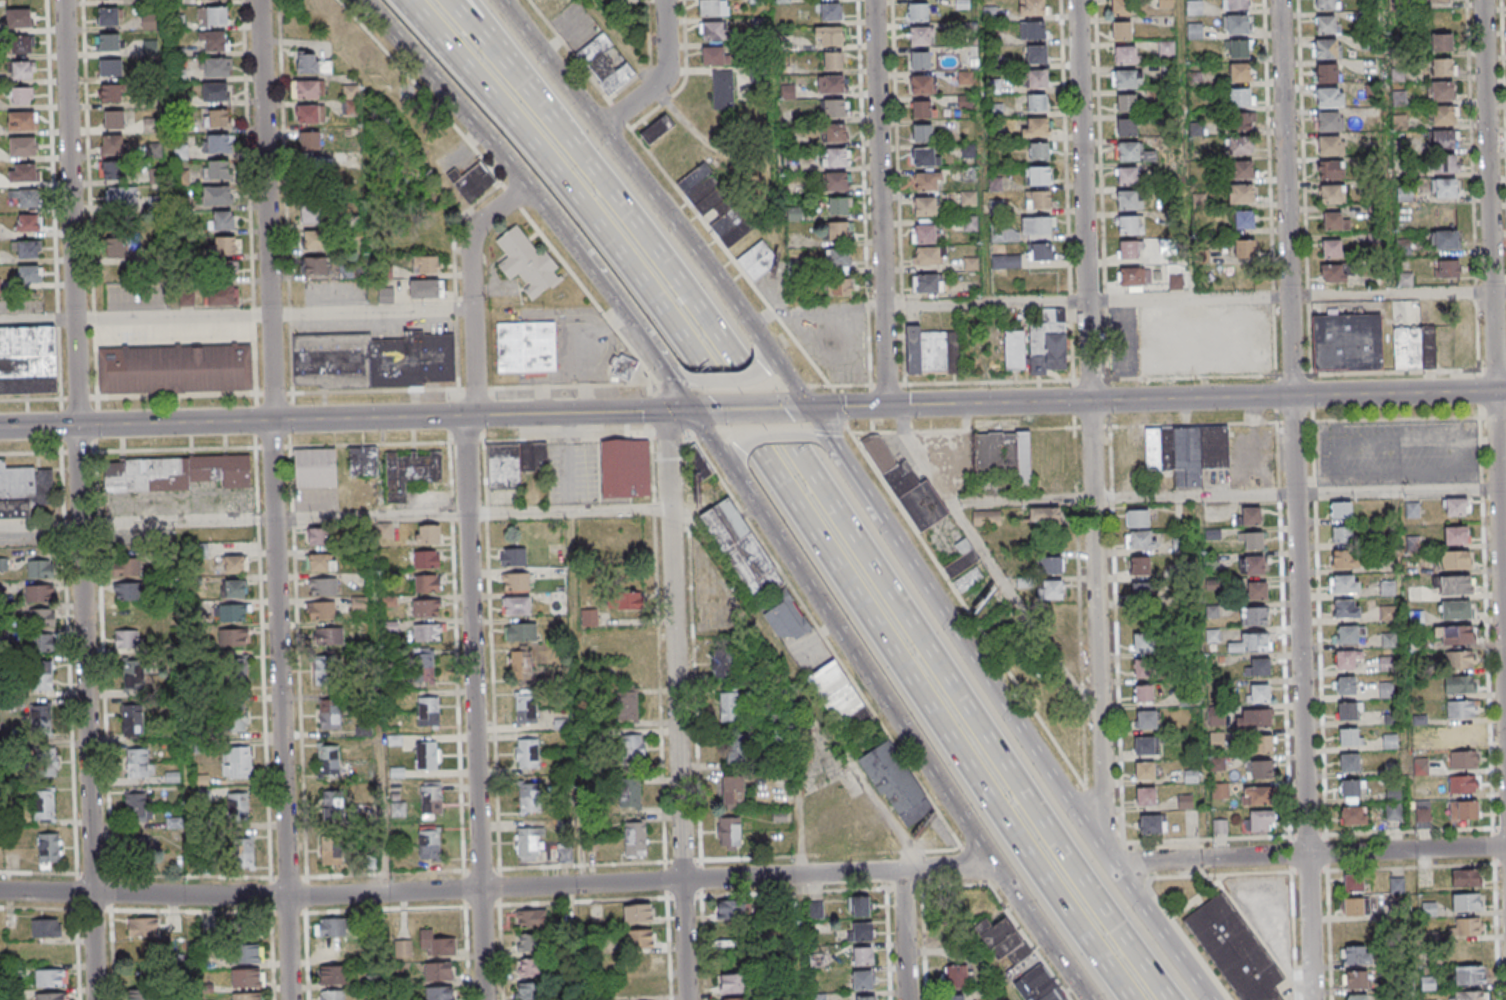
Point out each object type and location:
building: (1439, 1)
building: (1163, 3)
building: (1235, 4)
building: (1329, 5)
building: (552, 6)
building: (714, 7)
building: (1037, 8)
building: (1124, 8)
building: (830, 12)
building: (921, 14)
building: (107, 16)
building: (212, 16)
building: (17, 18)
building: (1235, 24)
building: (1330, 26)
building: (714, 30)
building: (1194, 31)
building: (1037, 32)
building: (1125, 32)
road: (506, 36)
building: (828, 37)
building: (923, 37)
road: (489, 39)
building: (108, 41)
building: (212, 42)
building: (1442, 42)
building: (21, 45)
building: (1166, 48)
building: (1243, 50)
building: (1330, 50)
building: (715, 55)
building: (1040, 56)
building: (1128, 57)
building: (833, 60)
building: (946, 60)
building: (923, 62)
building: (312, 64)
building: (604, 66)
building: (109, 67)
building: (216, 67)
building: (1441, 67)
building: (22, 70)
building: (1327, 72)
building: (1243, 74)
road: (661, 79)
building: (1129, 80)
building: (1041, 81)
building: (831, 84)
building: (925, 86)
building: (307, 89)
building: (723, 89)
building: (214, 91)
building: (1441, 91)
building: (109, 92)
building: (20, 96)
building: (1329, 97)
building: (1240, 98)
building: (351, 99)
building: (1040, 104)
building: (1130, 105)
building: (833, 108)
road: (549, 110)
building: (925, 111)
building: (308, 113)
road: (467, 116)
building: (1442, 116)
building: (217, 118)
building: (113, 119)
building: (20, 121)
building: (1242, 121)
building: (1327, 121)
building: (150, 124)
building: (1041, 129)
building: (657, 130)
building: (1130, 130)
building: (833, 134)
building: (926, 135)
building: (310, 141)
building: (1441, 141)
building: (111, 144)
building: (218, 144)
building: (1239, 145)
building: (1329, 146)
building: (21, 147)
building: (180, 152)
building: (1042, 153)
building: (1132, 153)
building: (834, 158)
building: (927, 158)
building: (1443, 164)
building: (1241, 169)
building: (1329, 170)
building: (114, 171)
building: (217, 171)
building: (22, 174)
road: (634, 174)
building: (1042, 178)
building: (1131, 178)
building: (474, 183)
building: (835, 183)
building: (928, 183)
building: (1444, 188)
building: (1241, 193)
building: (1330, 193)
building: (216, 196)
building: (121, 198)
building: (24, 199)
building: (1044, 202)
building: (1131, 202)
road: (879, 203)
building: (714, 206)
building: (995, 206)
building: (838, 207)
building: (930, 208)
building: (312, 215)
building: (1242, 219)
building: (1332, 220)
building: (222, 221)
building: (26, 224)
building: (1044, 227)
building: (1131, 227)
building: (837, 232)
building: (430, 236)
building: (928, 236)
building: (1444, 239)
building: (314, 241)
building: (117, 246)
building: (227, 246)
building: (1244, 248)
building: (1331, 248)
building: (1127, 249)
building: (27, 250)
building: (1045, 253)
building: (930, 258)
building: (838, 259)
building: (758, 261)
building: (1005, 261)
building: (527, 262)
building: (425, 265)
building: (314, 266)
building: (1446, 268)
building: (224, 270)
building: (346, 272)
building: (1333, 273)
building: (27, 275)
building: (1129, 276)
building: (930, 285)
building: (837, 287)
building: (425, 288)
building: (221, 296)
building: (386, 296)
building: (187, 300)
road: (1126, 301)
road: (276, 312)
road: (39, 317)
road: (631, 323)
road: (1495, 333)
road: (599, 335)
building: (1201, 341)
building: (1348, 342)
building: (1048, 343)
building: (526, 347)
building: (1414, 348)
building: (1013, 350)
building: (932, 351)
road: (766, 355)
road: (659, 357)
building: (28, 360)
building: (373, 360)
building: (624, 368)
building: (175, 369)
road: (786, 379)
road: (1093, 380)
road: (730, 381)
road: (588, 389)
road: (1501, 391)
road: (1151, 399)
road: (797, 408)
traffic signals: (806, 408)
road: (748, 410)
road: (700, 411)
traffic signals: (691, 412)
road: (1095, 417)
road: (386, 418)
road: (40, 426)
road: (820, 428)
road: (771, 433)
road: (824, 440)
road: (715, 446)
building: (1187, 451)
building: (1004, 454)
building: (363, 460)
road: (841, 460)
building: (514, 463)
building: (626, 468)
road: (736, 468)
building: (315, 469)
building: (411, 471)
building: (175, 473)
building: (906, 487)
road: (782, 489)
road: (1503, 489)
building: (24, 490)
road: (891, 495)
road: (1224, 496)
road: (280, 499)
road: (1301, 499)
road: (84, 500)
building: (1456, 506)
road: (952, 508)
building: (1341, 509)
building: (1411, 509)
building: (1250, 515)
building: (1043, 516)
road: (337, 518)
building: (986, 518)
building: (1136, 519)
building: (428, 533)
building: (1343, 534)
building: (1455, 534)
building: (317, 537)
building: (1251, 539)
building: (1141, 540)
building: (1179, 545)
building: (513, 556)
building: (426, 558)
building: (1344, 558)
building: (1455, 560)
building: (233, 563)
building: (320, 563)
building: (1251, 564)
building: (128, 565)
building: (1139, 565)
building: (1050, 566)
road: (876, 567)
building: (964, 567)
building: (39, 569)
building: (755, 571)
road: (475, 578)
building: (515, 581)
building: (427, 583)
building: (1343, 583)
building: (1454, 585)
building: (323, 586)
building: (233, 588)
building: (1390, 588)
building: (128, 590)
building: (1049, 590)
building: (1255, 590)
building: (38, 594)
building: (1143, 594)
building: (627, 601)
building: (557, 602)
building: (517, 605)
building: (426, 608)
building: (1344, 608)
building: (1456, 609)
building: (320, 611)
building: (234, 612)
building: (1390, 613)
building: (1254, 616)
building: (589, 617)
building: (40, 618)
building: (1419, 619)
building: (521, 631)
building: (426, 633)
building: (1454, 634)
road: (459, 636)
building: (235, 637)
building: (326, 637)
building: (1350, 637)
building: (128, 639)
building: (1392, 640)
building: (1251, 642)
building: (44, 643)
building: (1147, 645)
road: (696, 646)
building: (1462, 659)
building: (1348, 663)
building: (723, 664)
building: (1389, 664)
building: (423, 665)
building: (522, 665)
building: (1256, 666)
building: (324, 671)
building: (1147, 671)
building: (236, 673)
building: (134, 674)
building: (42, 676)
building: (1459, 684)
building: (1349, 688)
building: (1389, 690)
building: (1258, 692)
building: (837, 694)
building: (1147, 696)
building: (729, 704)
building: (627, 706)
road: (682, 706)
building: (525, 707)
building: (1461, 708)
building: (429, 711)
building: (330, 714)
building: (1350, 714)
building: (40, 716)
building: (236, 717)
building: (132, 718)
building: (1253, 718)
building: (1150, 722)
building: (1458, 734)
road: (1025, 738)
building: (1351, 740)
road: (912, 741)
building: (1389, 741)
building: (1261, 744)
building: (632, 748)
building: (738, 749)
building: (1148, 749)
building: (527, 753)
building: (427, 756)
building: (328, 759)
building: (1463, 759)
building: (46, 763)
building: (138, 763)
building: (236, 763)
building: (1352, 766)
building: (1259, 770)
building: (1148, 774)
building: (896, 784)
building: (1463, 784)
building: (733, 791)
building: (1220, 791)
building: (1353, 791)
building: (1393, 793)
building: (629, 795)
building: (1256, 796)
building: (529, 797)
building: (431, 798)
building: (1149, 800)
building: (43, 804)
building: (333, 805)
building: (138, 806)
building: (237, 807)
building: (1463, 810)
building: (1393, 811)
building: (1422, 811)
building: (1353, 815)
building: (1258, 821)
building: (1152, 823)
building: (1219, 827)
building: (729, 831)
building: (635, 839)
building: (429, 843)
building: (528, 844)
building: (48, 847)
building: (144, 848)
building: (241, 851)
building: (331, 851)
building: (561, 855)
road: (1309, 855)
road: (645, 863)
building: (1466, 878)
building: (1354, 885)
road: (955, 886)
building: (1396, 886)
road: (498, 889)
building: (1467, 902)
building: (858, 905)
building: (1352, 907)
building: (730, 910)
building: (816, 910)
building: (638, 912)
building: (531, 919)
building: (45, 927)
building: (142, 927)
building: (331, 927)
building: (1467, 927)
road: (1496, 928)
building: (860, 931)
road: (1328, 932)
road: (908, 934)
building: (639, 938)
building: (530, 942)
building: (1005, 942)
building: (436, 943)
road: (926, 944)
building: (403, 948)
building: (1234, 949)
building: (330, 951)
building: (245, 954)
building: (1355, 954)
building: (863, 955)
building: (529, 967)
building: (438, 971)
building: (333, 975)
building: (1469, 975)
road: (0, 976)
building: (957, 976)
building: (51, 977)
building: (247, 978)
building: (862, 979)
building: (1356, 979)
building: (732, 983)
building: (1038, 985)
building: (527, 991)
building: (439, 992)
building: (143, 993)
building: (332, 995)
building: (1468, 995)
building: (50, 996)
building: (246, 996)
building: (953, 997)
building: (1357, 997)
building: (734, 999)

